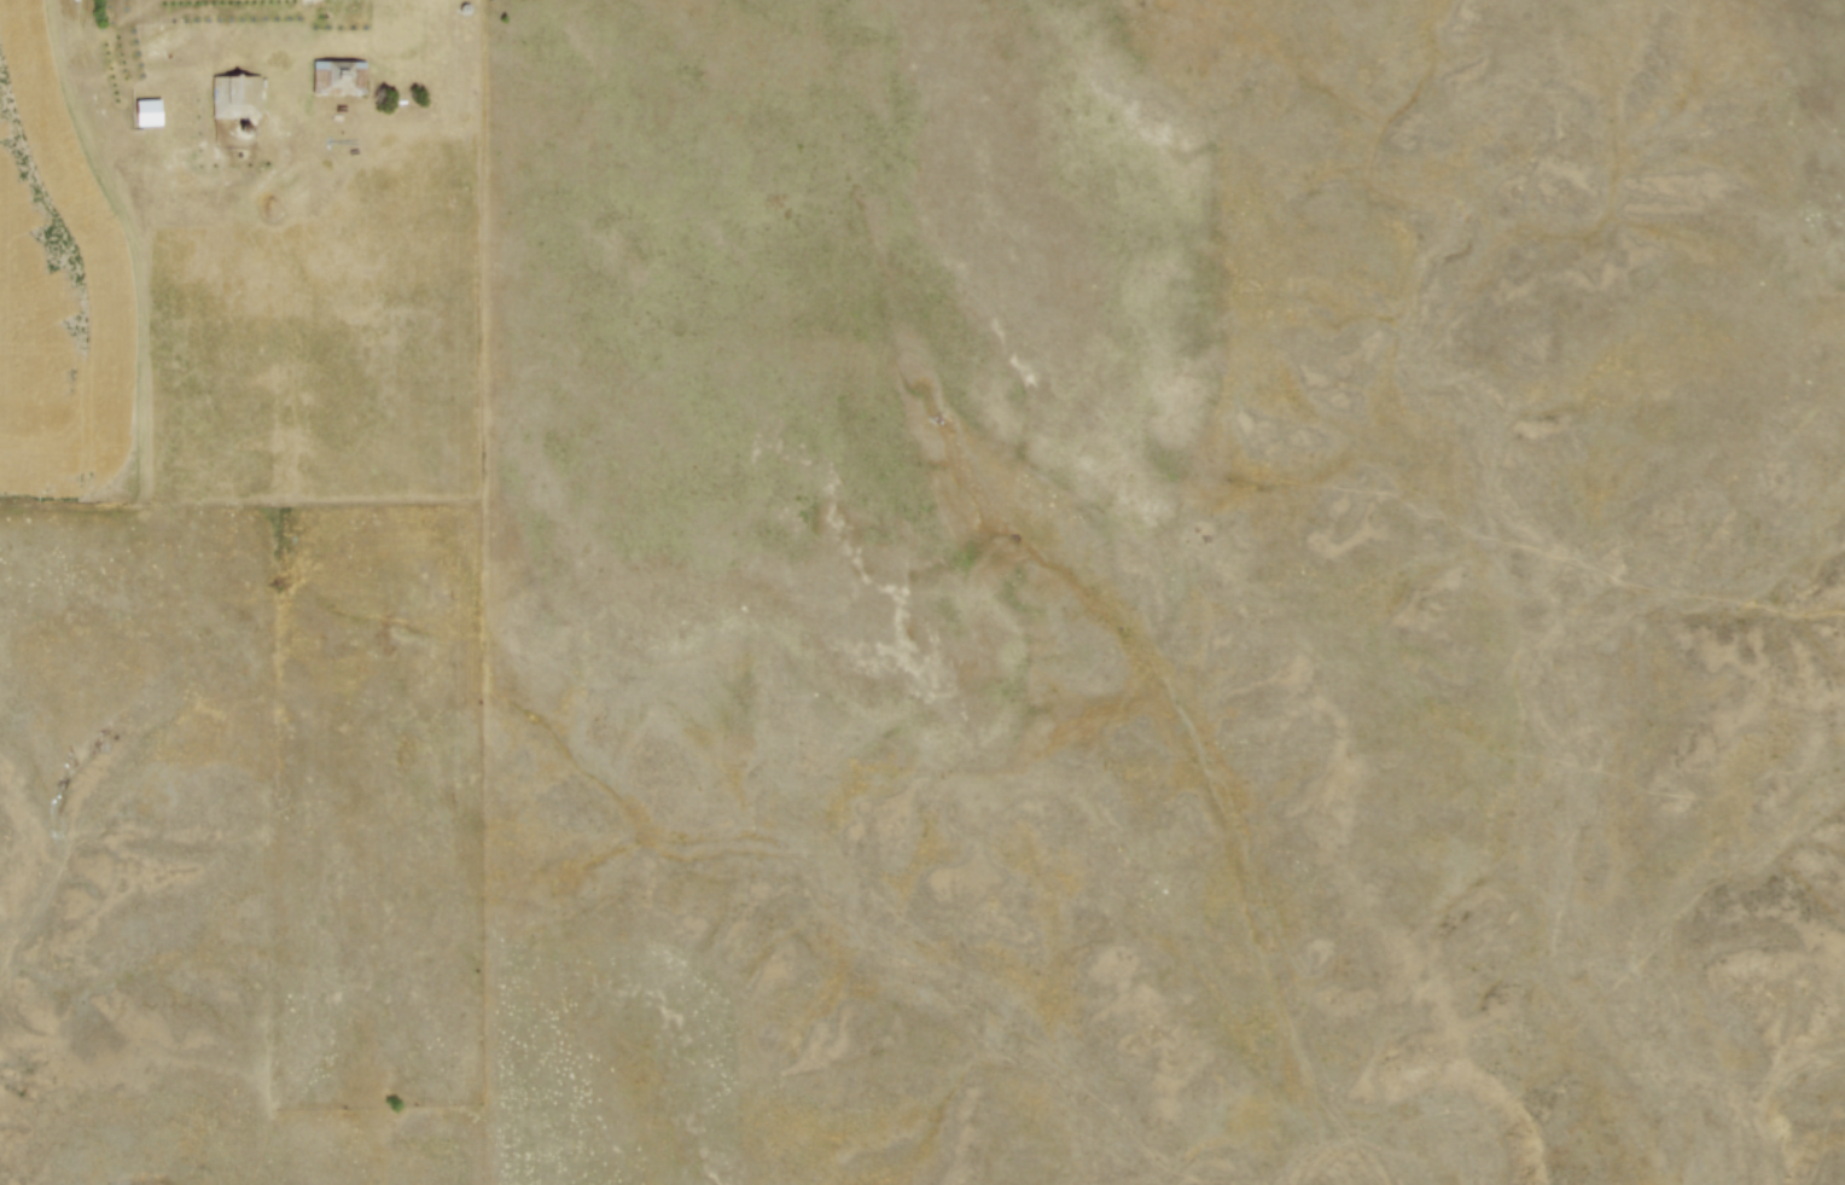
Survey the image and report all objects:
building: (341, 75)
building: (238, 97)
crop: (64, 287)

